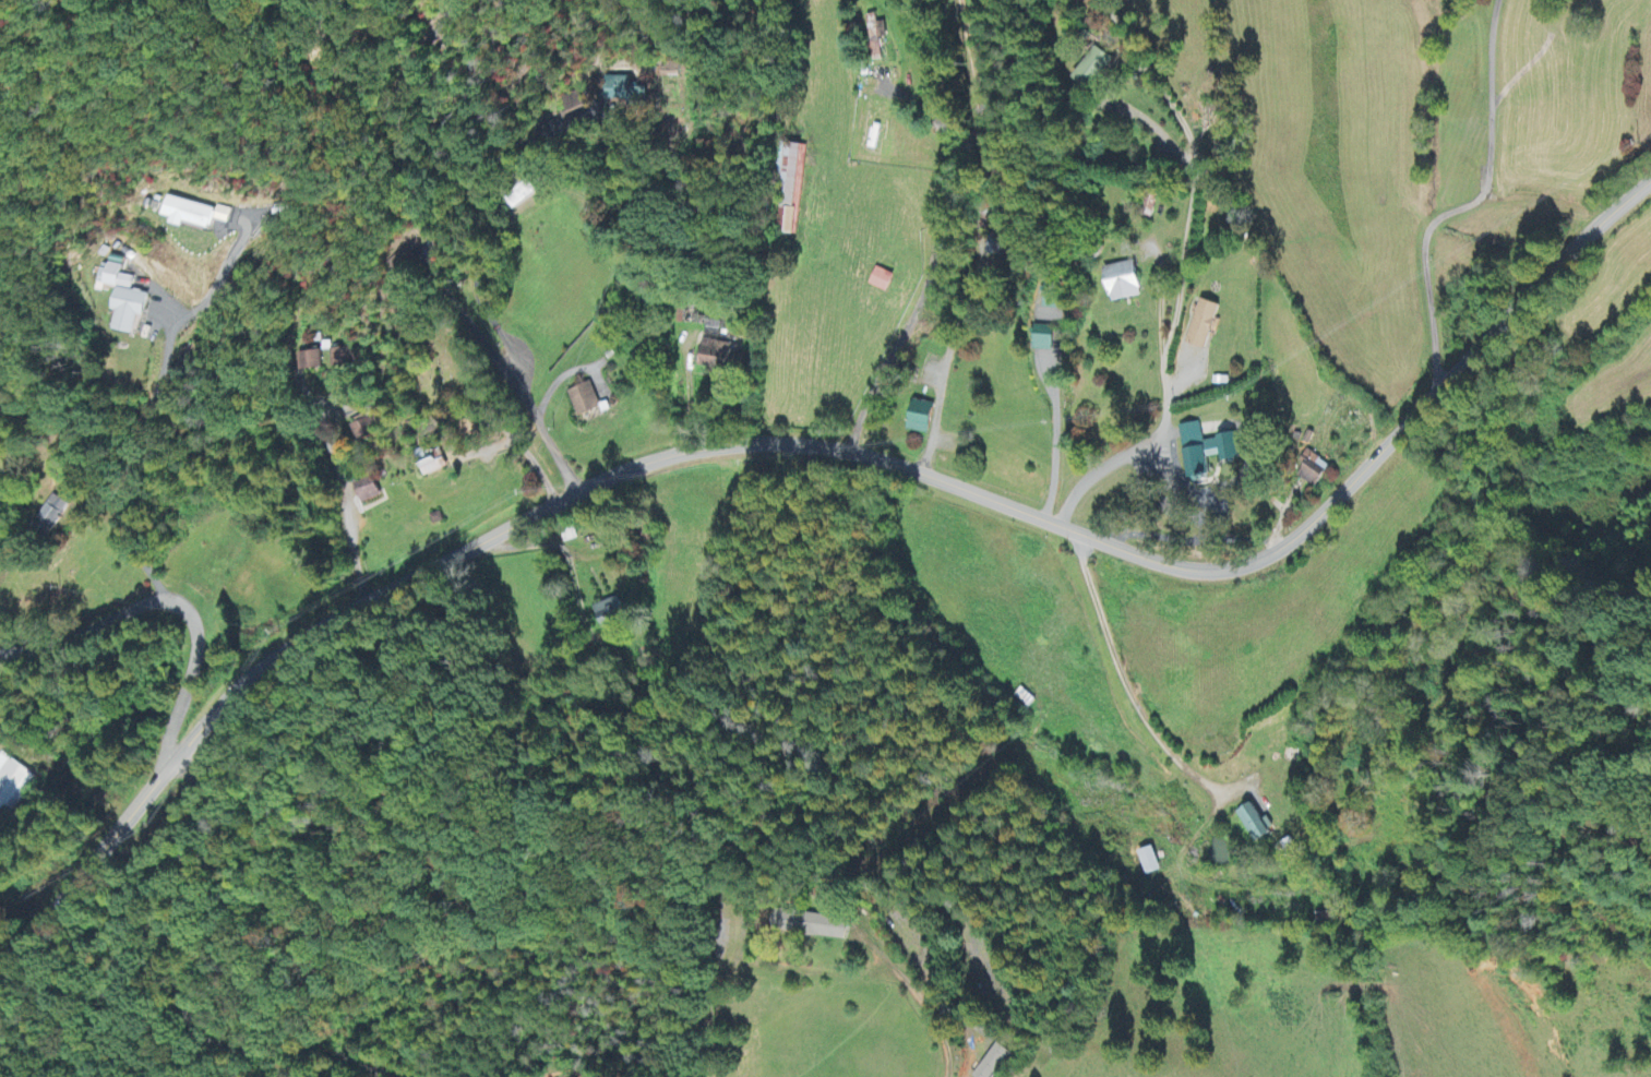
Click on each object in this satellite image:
building: (876, 36)
building: (1096, 68)
building: (619, 88)
building: (583, 109)
building: (1152, 203)
road: (1469, 203)
road: (936, 234)
road: (1181, 276)
building: (883, 280)
building: (1127, 282)
building: (1055, 297)
building: (124, 299)
road: (497, 310)
building: (1206, 325)
building: (1044, 338)
building: (716, 357)
building: (342, 358)
building: (311, 361)
park: (428, 375)
building: (585, 400)
building: (922, 418)
road: (818, 448)
building: (1208, 451)
building: (435, 467)
building: (1314, 469)
building: (369, 491)
road: (346, 495)
building: (53, 512)
road: (166, 601)
building: (611, 614)
road: (1125, 671)
building: (13, 783)
building: (1257, 825)
building: (1151, 862)
building: (813, 926)
road: (193, 981)
road: (922, 1007)
building: (970, 1065)

